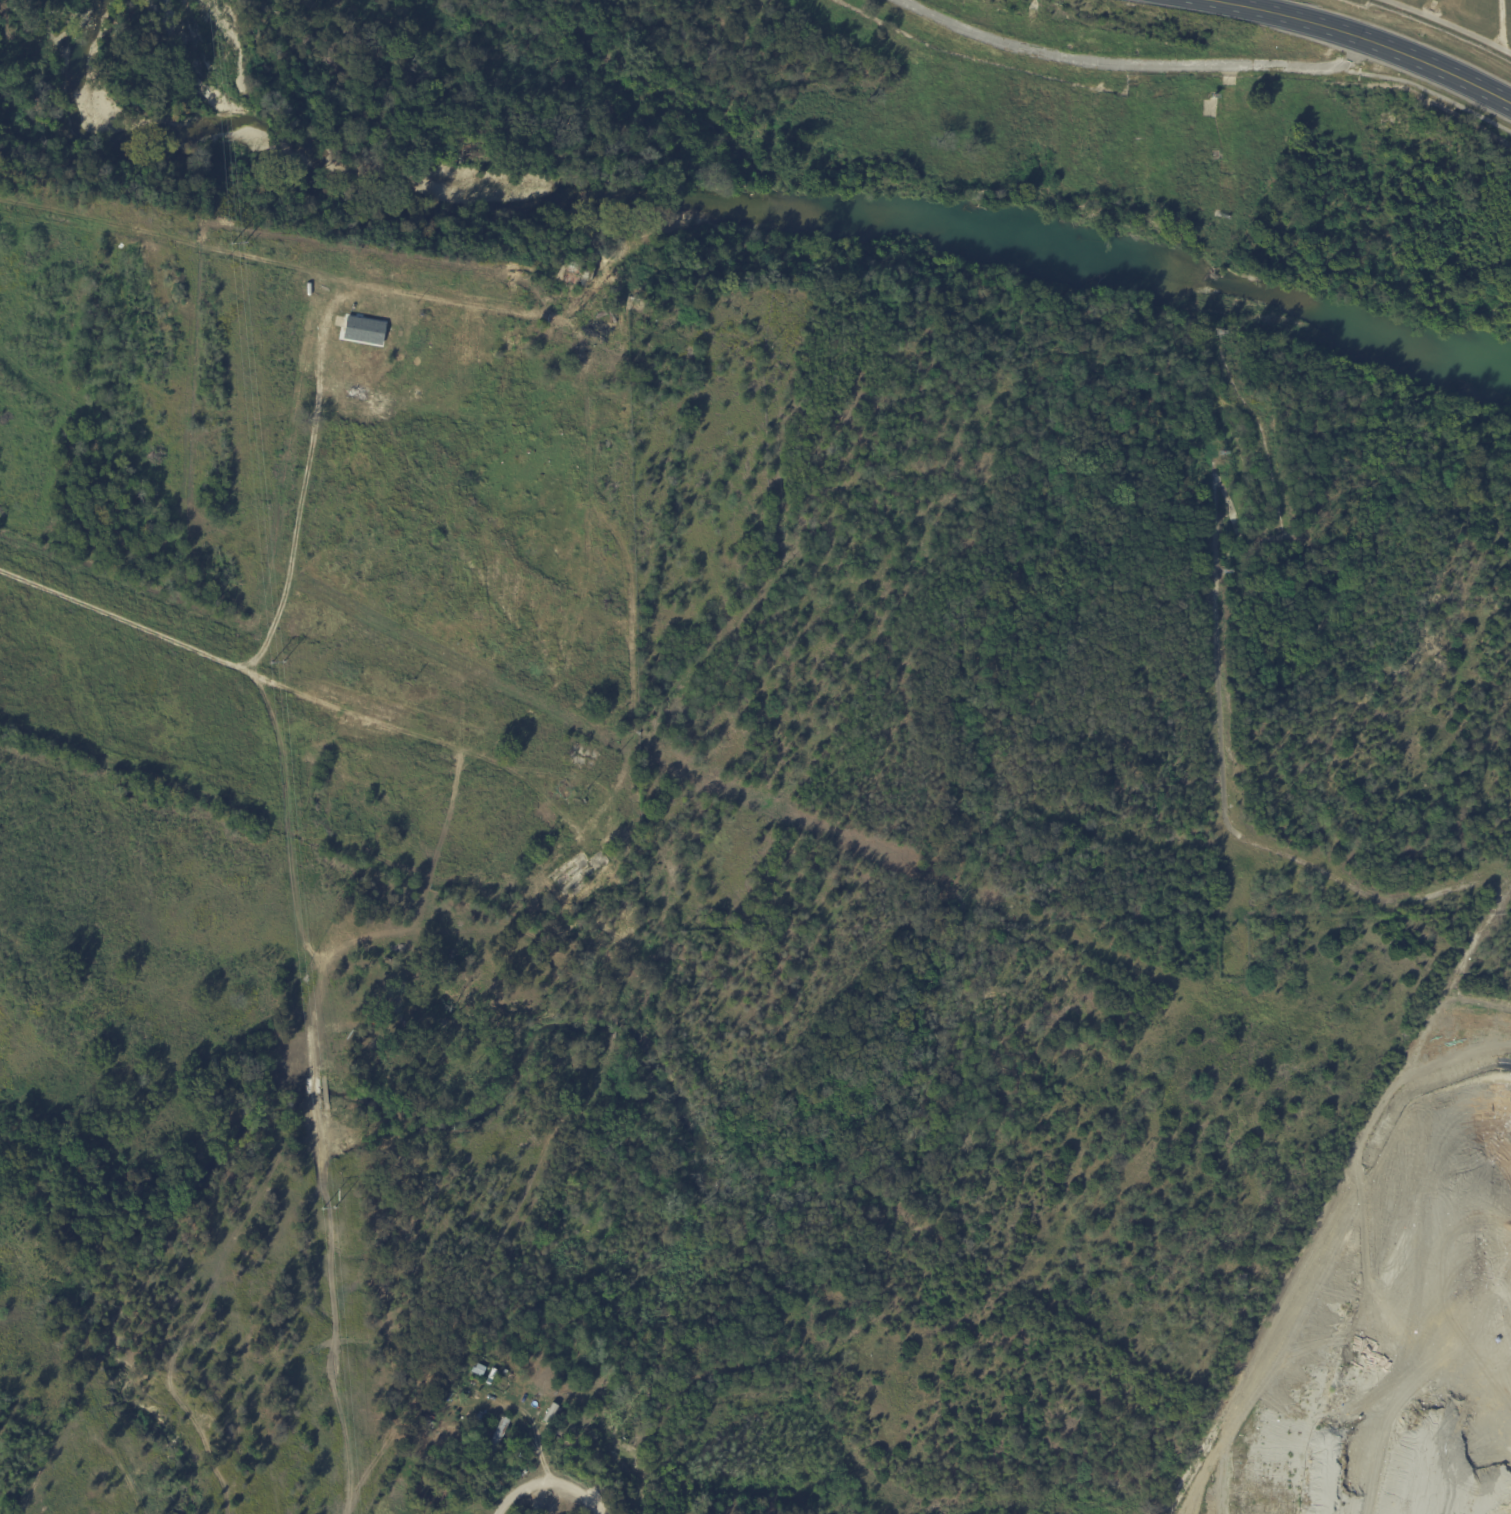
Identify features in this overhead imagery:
airport: (1452, 23)
road: (1359, 39)
road: (1133, 61)
road: (1410, 83)
river: (719, 200)
building: (364, 331)
road: (250, 664)
building: (1241, 1279)
landfill: (1400, 1315)
building: (513, 1392)
building: (480, 1419)
building: (494, 1440)
road: (537, 1443)
road: (547, 1479)

